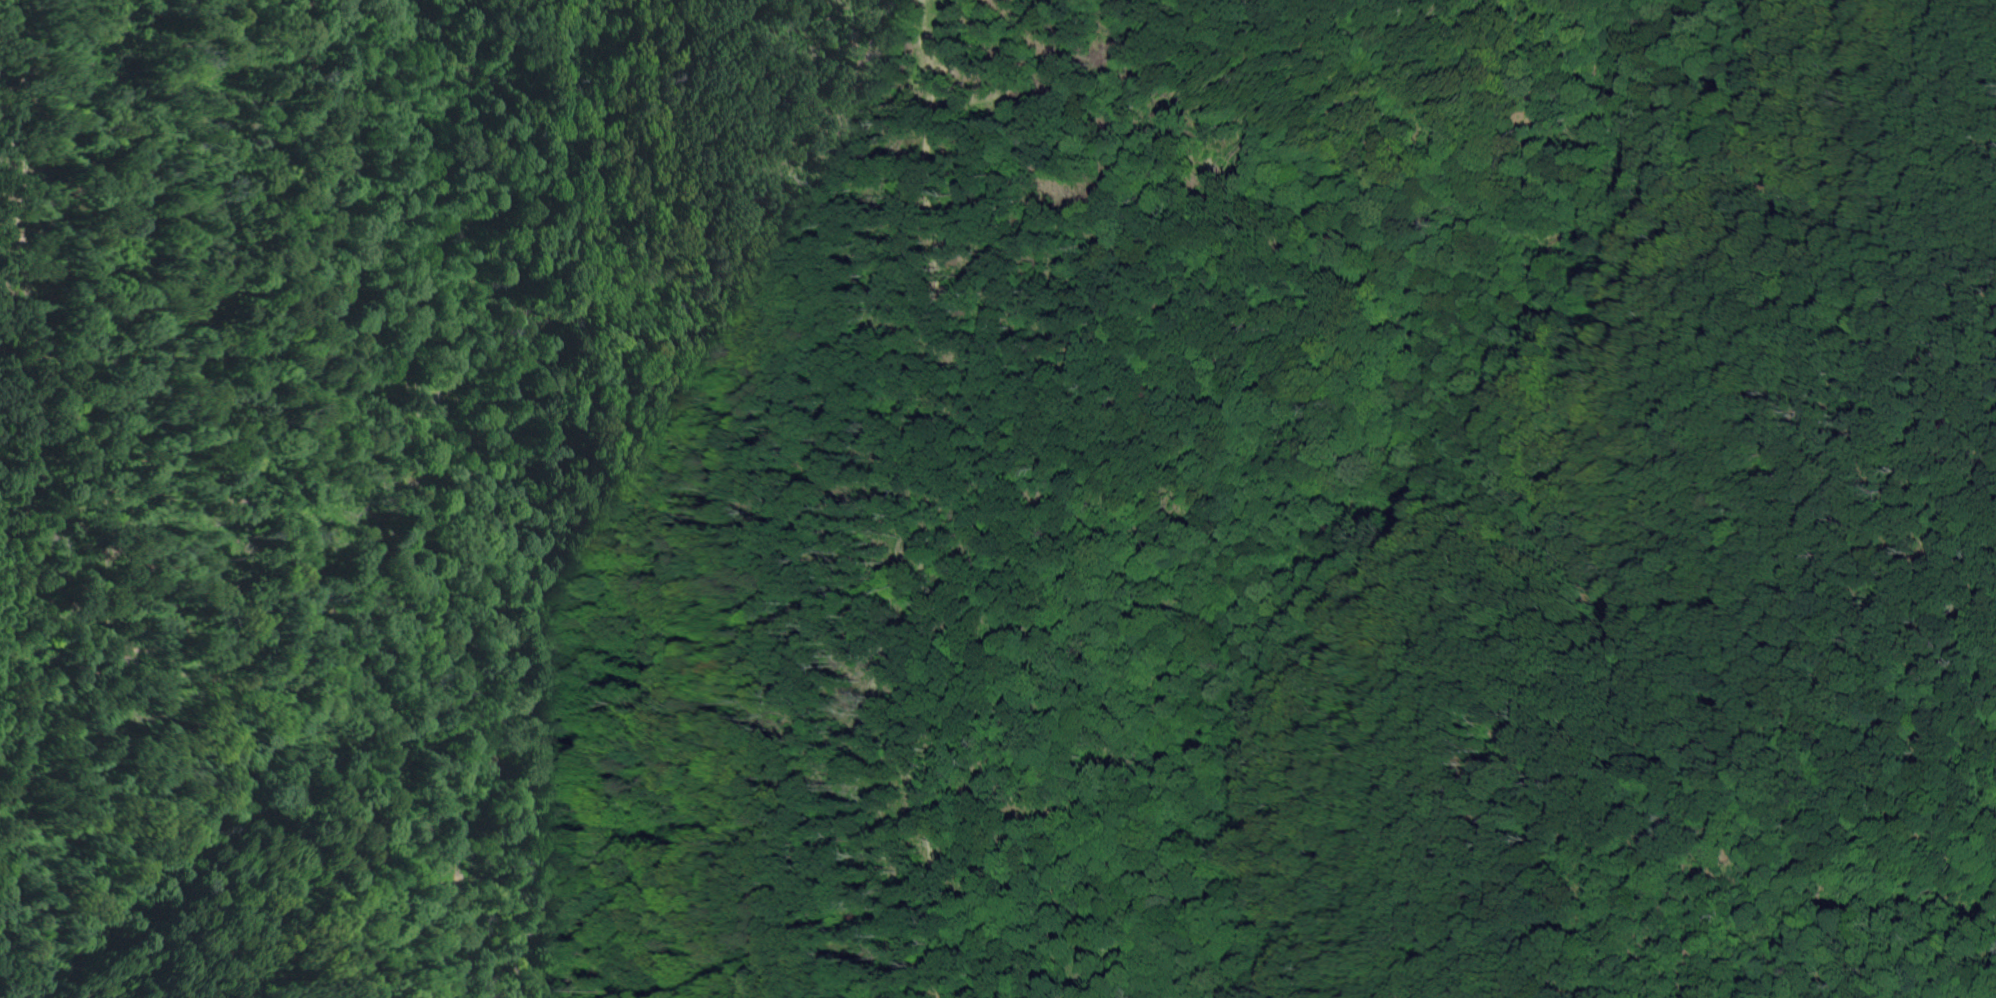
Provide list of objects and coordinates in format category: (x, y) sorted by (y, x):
road: (909, 494)

